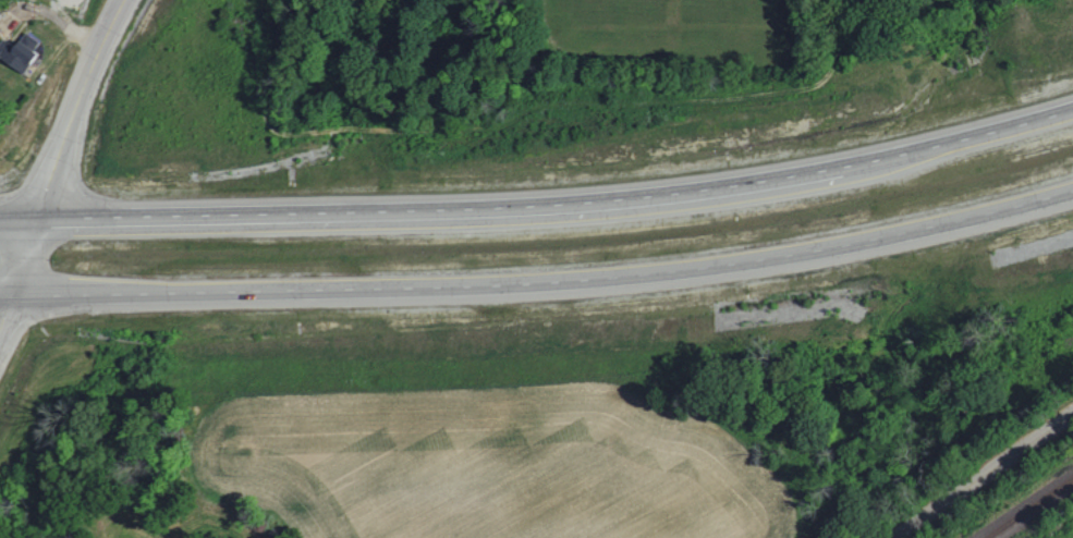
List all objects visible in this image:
park: (625, 29)
building: (21, 52)
road: (68, 109)
road: (541, 192)
road: (5, 233)
road: (540, 284)
road: (981, 477)
railway: (1033, 510)

